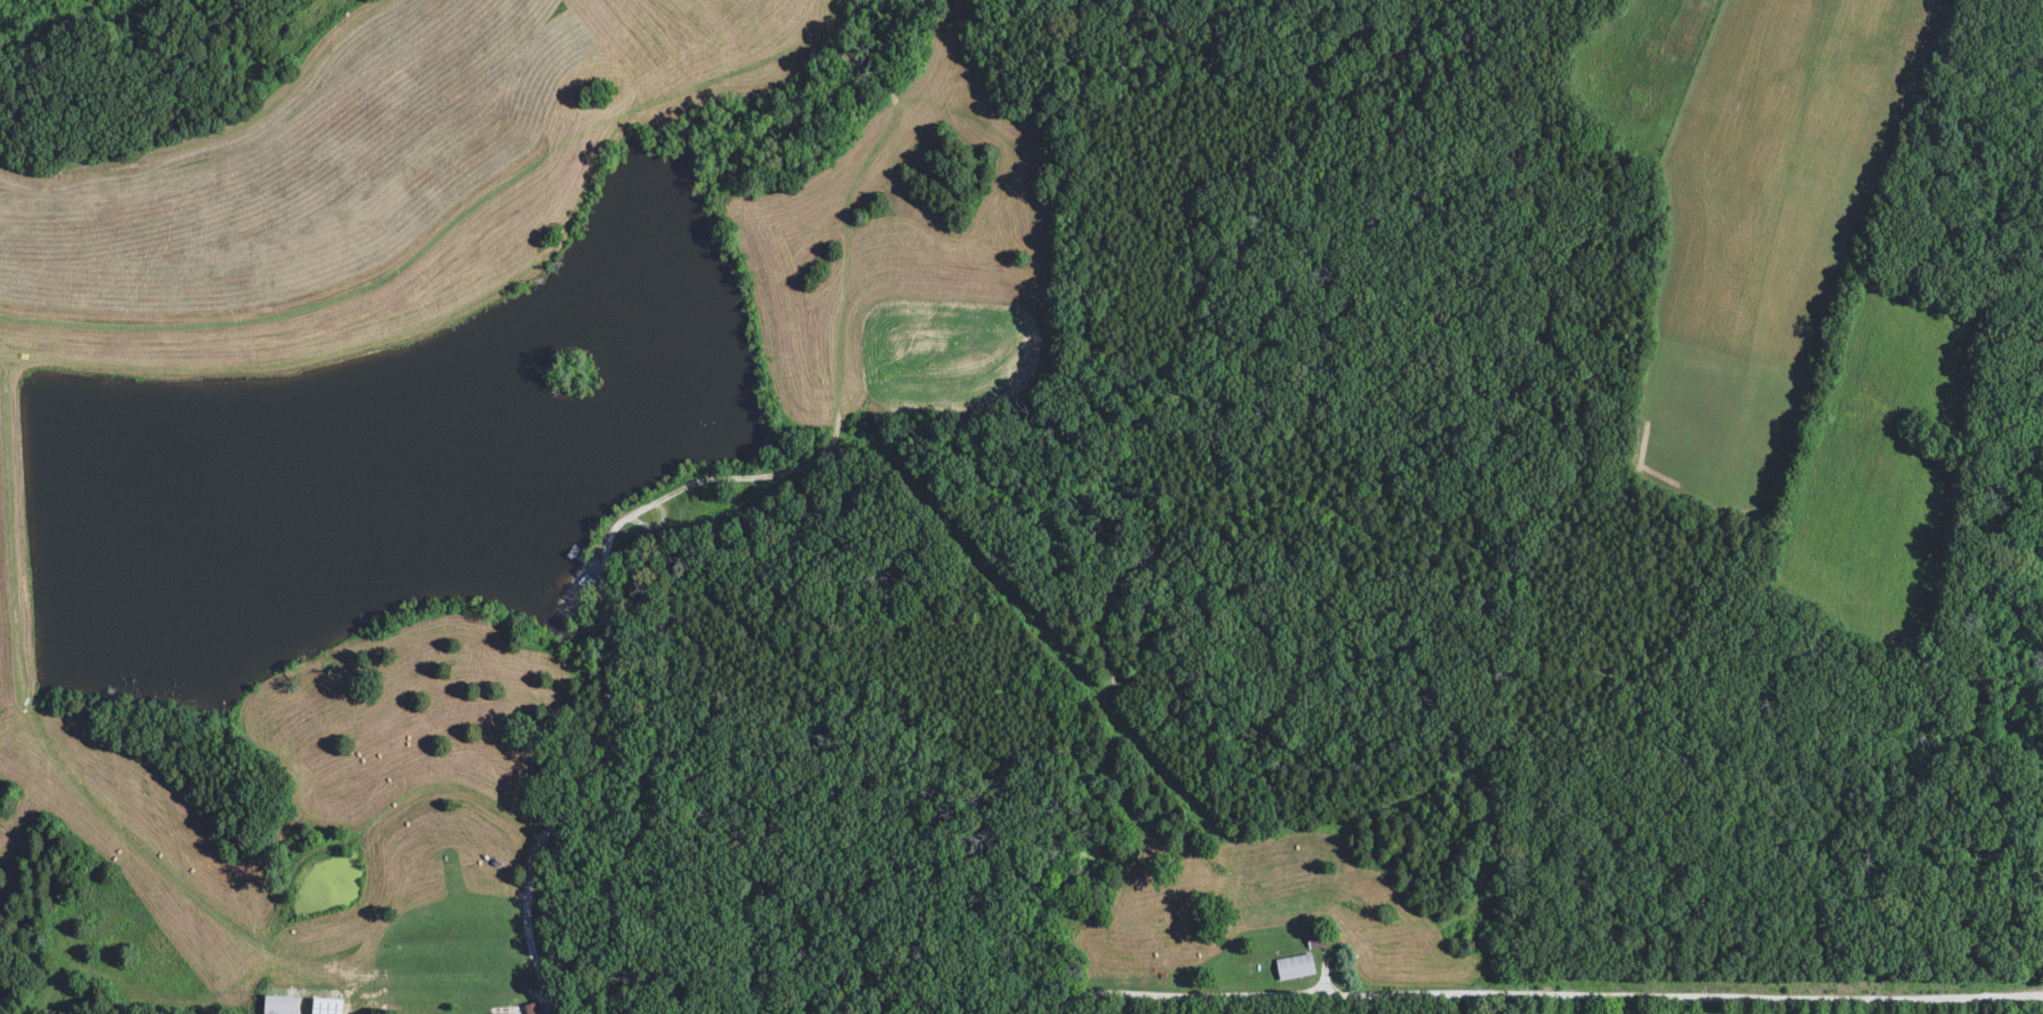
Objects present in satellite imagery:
road: (549, 831)
building: (1316, 942)
building: (1294, 969)
road: (1541, 998)
building: (280, 1005)
road: (2018, 1005)
building: (325, 1006)

